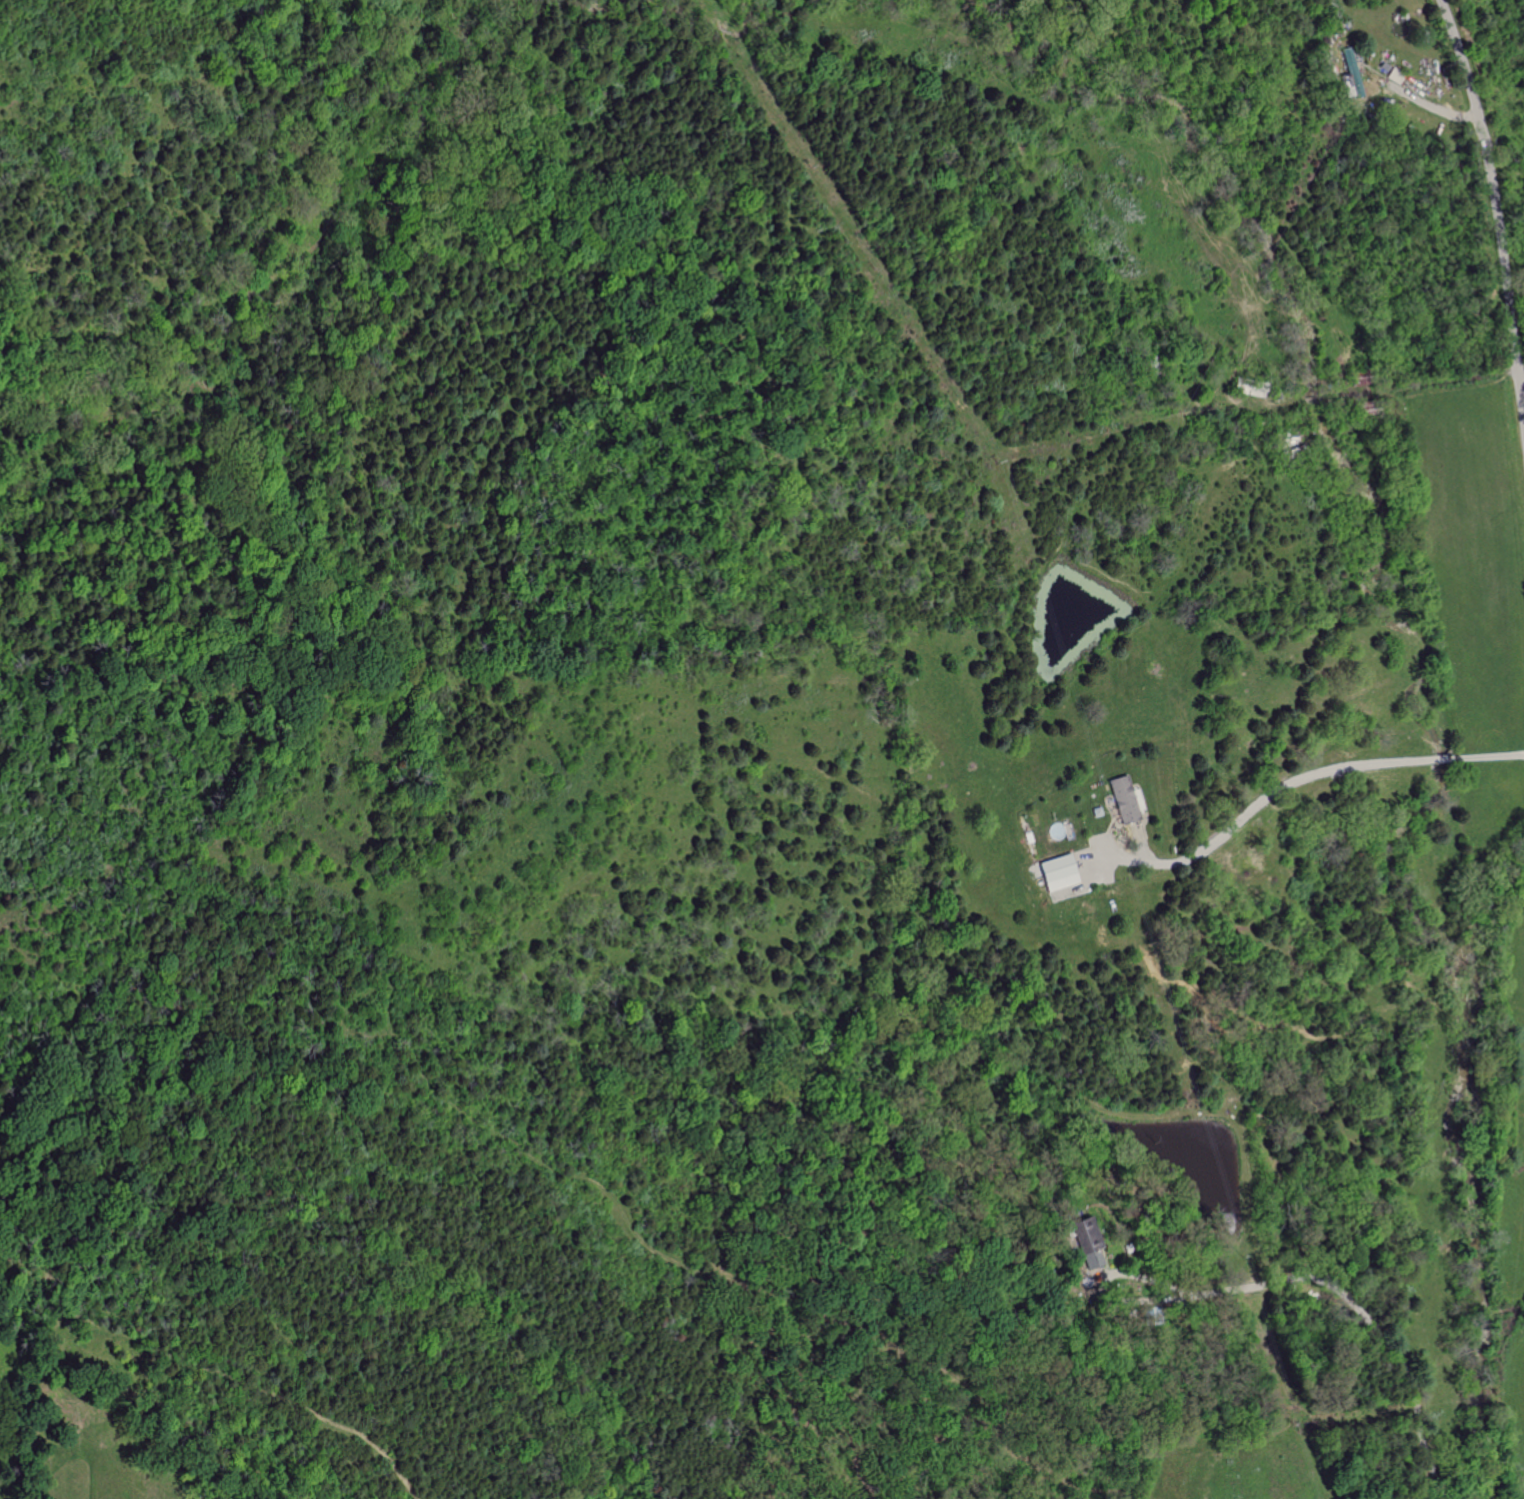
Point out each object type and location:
road: (1496, 209)
road: (1401, 388)
road: (1291, 782)
building: (1120, 800)
building: (1087, 1250)
road: (1339, 1287)

